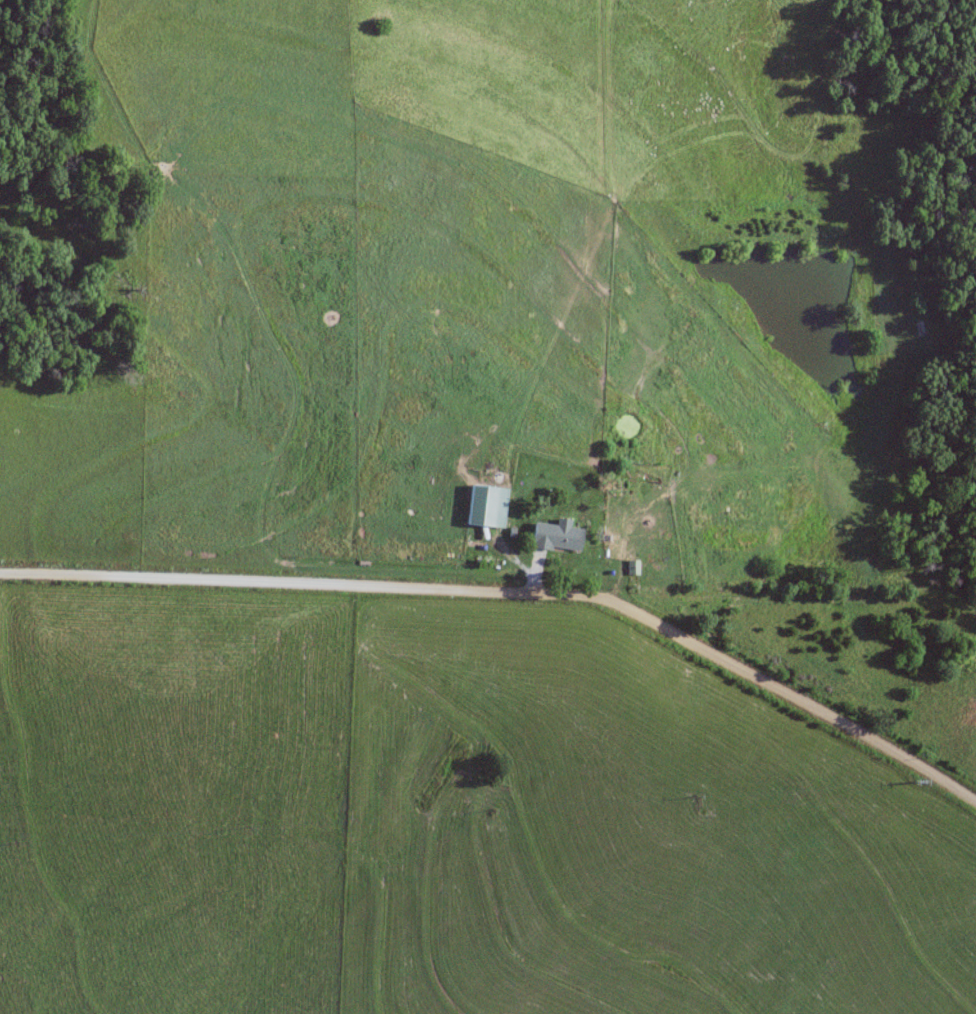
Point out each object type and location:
building: (716, 531)
building: (554, 537)
road: (513, 592)

